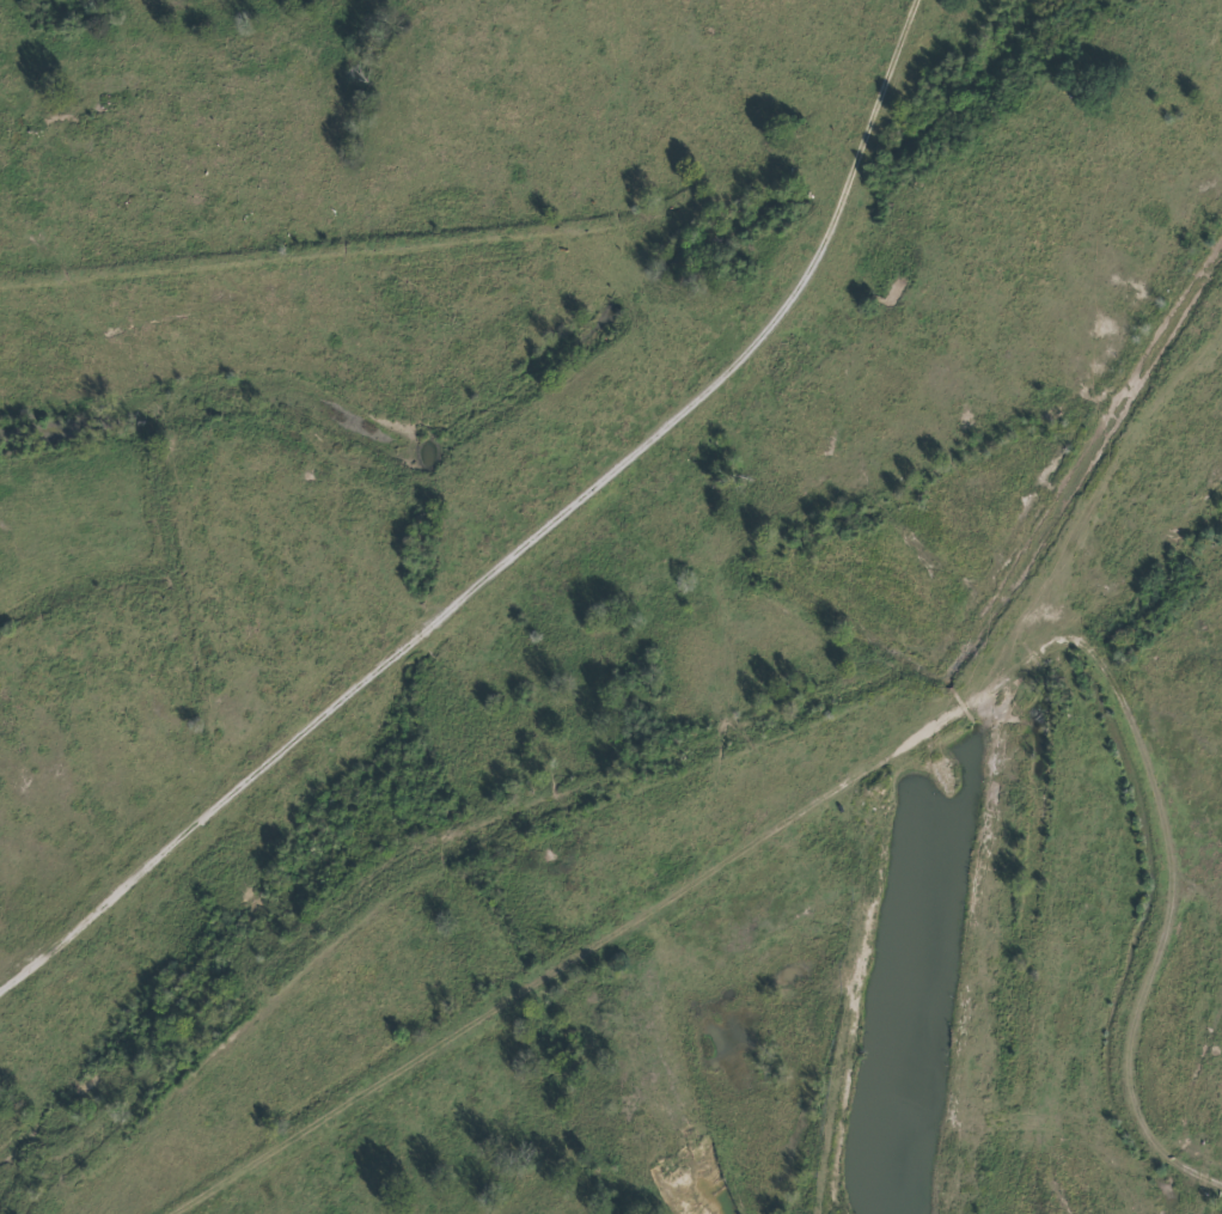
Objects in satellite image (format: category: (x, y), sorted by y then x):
road: (524, 545)
road: (701, 870)

